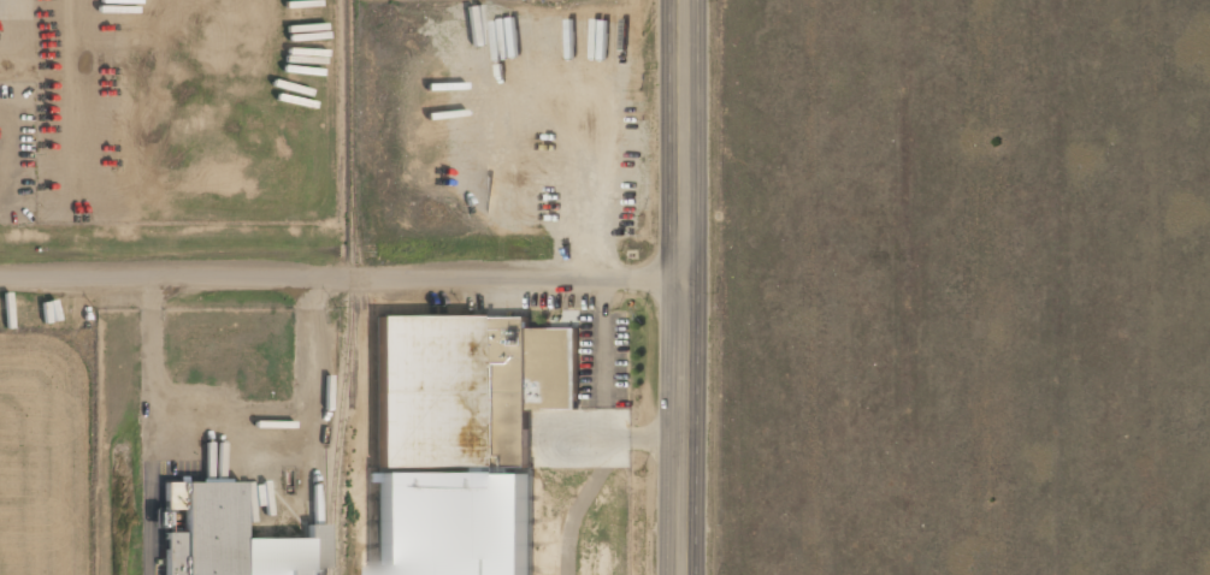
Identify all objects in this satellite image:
road: (341, 275)
railway: (350, 287)
road: (683, 287)
railway: (368, 321)
road: (602, 336)
railway: (350, 360)
building: (461, 374)
road: (598, 474)
building: (454, 523)
building: (231, 538)

